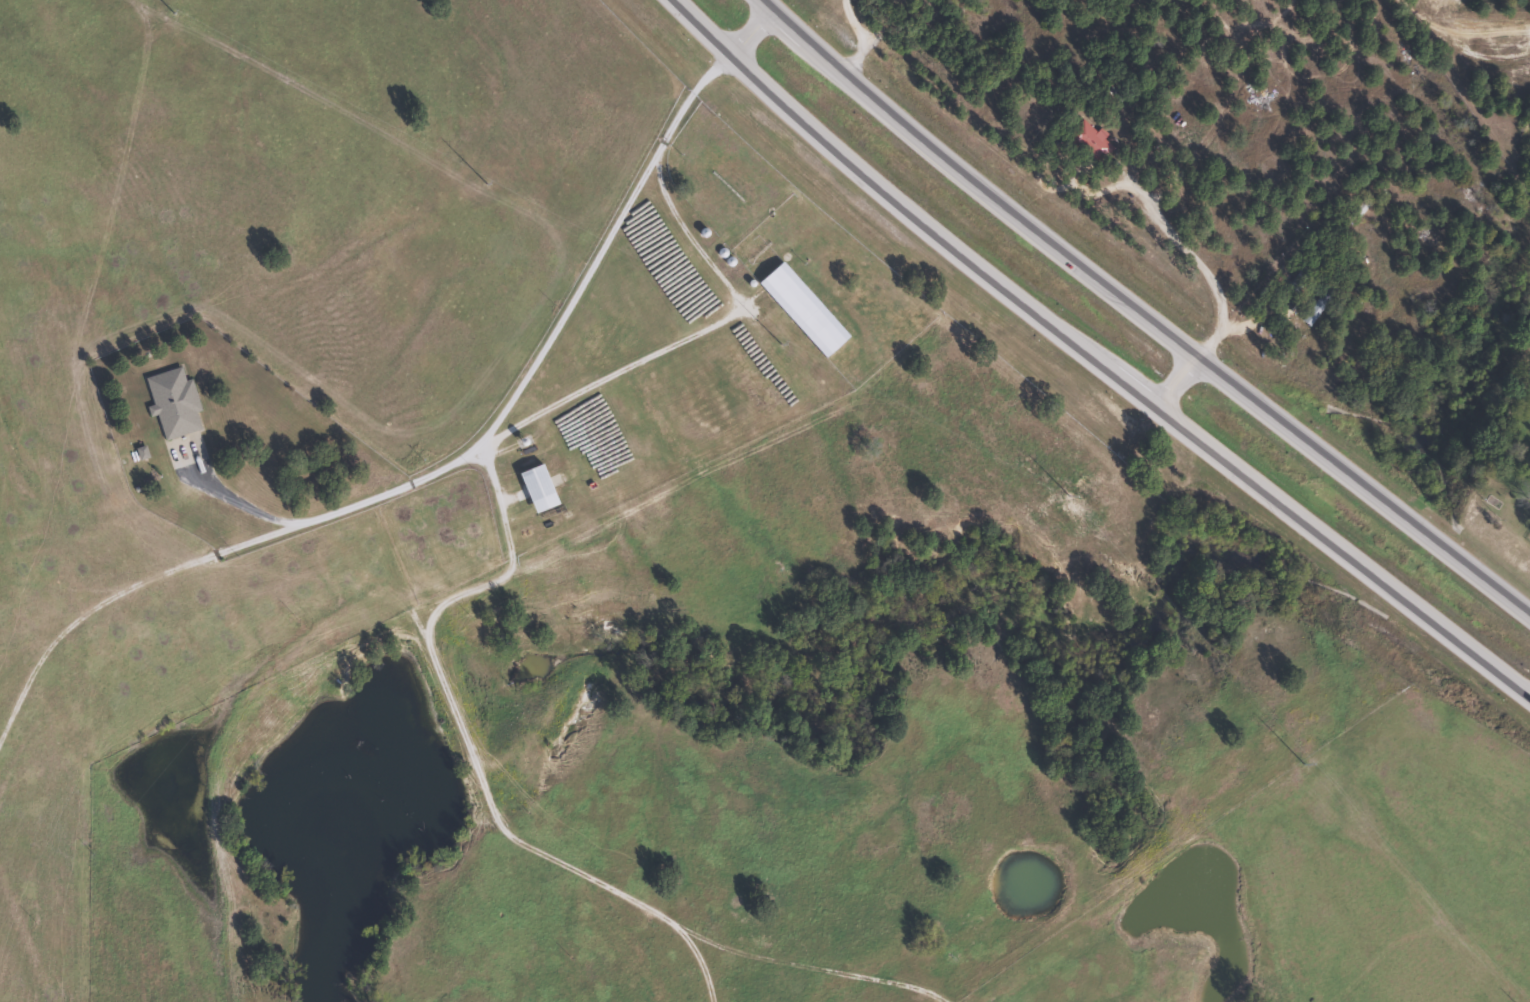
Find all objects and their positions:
road: (705, 27)
road: (753, 32)
building: (1092, 140)
building: (1284, 268)
building: (1319, 306)
building: (805, 308)
road: (1139, 313)
road: (1174, 379)
road: (1125, 380)
building: (174, 402)
road: (456, 459)
building: (540, 487)
road: (15, 587)

